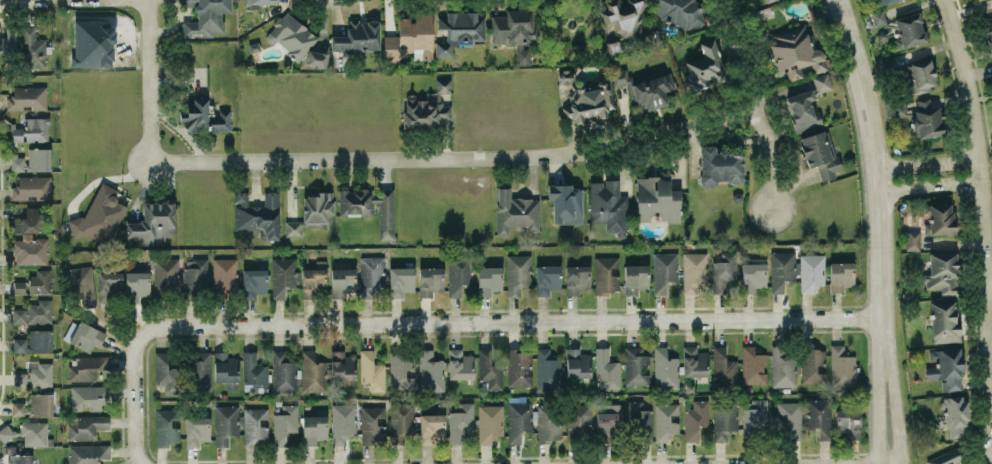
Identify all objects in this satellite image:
building: (767, 0)
building: (261, 1)
building: (885, 1)
building: (679, 12)
building: (618, 14)
building: (205, 17)
building: (878, 17)
building: (514, 26)
building: (910, 29)
building: (459, 30)
building: (987, 30)
building: (291, 36)
building: (358, 36)
building: (411, 37)
building: (8, 43)
building: (32, 48)
building: (795, 52)
building: (523, 56)
building: (316, 58)
building: (703, 65)
building: (919, 75)
building: (565, 77)
road: (147, 81)
building: (821, 82)
building: (645, 88)
building: (27, 98)
building: (590, 100)
road: (760, 101)
building: (428, 109)
building: (803, 110)
building: (196, 112)
building: (923, 116)
building: (220, 121)
park: (989, 123)
building: (31, 130)
building: (820, 153)
road: (458, 155)
road: (873, 156)
building: (32, 160)
road: (927, 163)
building: (720, 165)
road: (982, 187)
building: (32, 188)
road: (929, 188)
building: (657, 198)
building: (566, 203)
building: (369, 206)
building: (608, 206)
building: (515, 211)
building: (313, 213)
building: (102, 215)
building: (257, 215)
building: (940, 219)
building: (29, 221)
building: (152, 224)
building: (912, 239)
building: (30, 250)
building: (781, 269)
building: (664, 271)
building: (693, 271)
building: (724, 271)
building: (811, 271)
building: (942, 272)
building: (458, 273)
building: (517, 273)
building: (606, 274)
building: (753, 274)
building: (165, 275)
building: (224, 275)
building: (282, 275)
building: (841, 275)
building: (370, 277)
building: (80, 278)
building: (195, 278)
building: (547, 278)
building: (577, 278)
building: (635, 278)
building: (489, 279)
building: (400, 280)
building: (430, 280)
building: (39, 281)
building: (312, 281)
building: (342, 281)
building: (254, 282)
road: (988, 282)
building: (136, 285)
building: (109, 286)
building: (18, 287)
building: (34, 313)
building: (944, 321)
road: (444, 322)
building: (70, 331)
building: (87, 336)
building: (34, 342)
building: (694, 362)
building: (577, 363)
building: (460, 364)
building: (636, 365)
building: (753, 365)
building: (812, 365)
building: (343, 366)
building: (783, 366)
building: (841, 366)
building: (87, 367)
building: (225, 367)
building: (518, 367)
building: (200, 368)
building: (665, 368)
building: (724, 368)
building: (946, 368)
building: (371, 369)
building: (489, 369)
building: (606, 369)
building: (400, 370)
building: (547, 370)
building: (430, 371)
building: (166, 372)
building: (283, 372)
building: (313, 372)
building: (40, 373)
building: (254, 373)
building: (20, 379)
road: (878, 390)
road: (891, 390)
building: (88, 397)
building: (41, 404)
building: (18, 408)
building: (754, 415)
building: (956, 416)
building: (724, 417)
building: (819, 417)
building: (518, 419)
building: (695, 419)
building: (666, 420)
building: (789, 420)
building: (460, 421)
building: (608, 421)
building: (343, 422)
building: (549, 422)
building: (578, 422)
building: (639, 422)
building: (847, 422)
building: (225, 423)
building: (284, 423)
building: (401, 423)
building: (372, 424)
building: (490, 424)
building: (86, 426)
building: (166, 426)
building: (255, 427)
building: (432, 428)
building: (314, 429)
building: (196, 430)
building: (6, 433)
building: (34, 433)
building: (87, 453)
building: (945, 457)
building: (21, 458)

